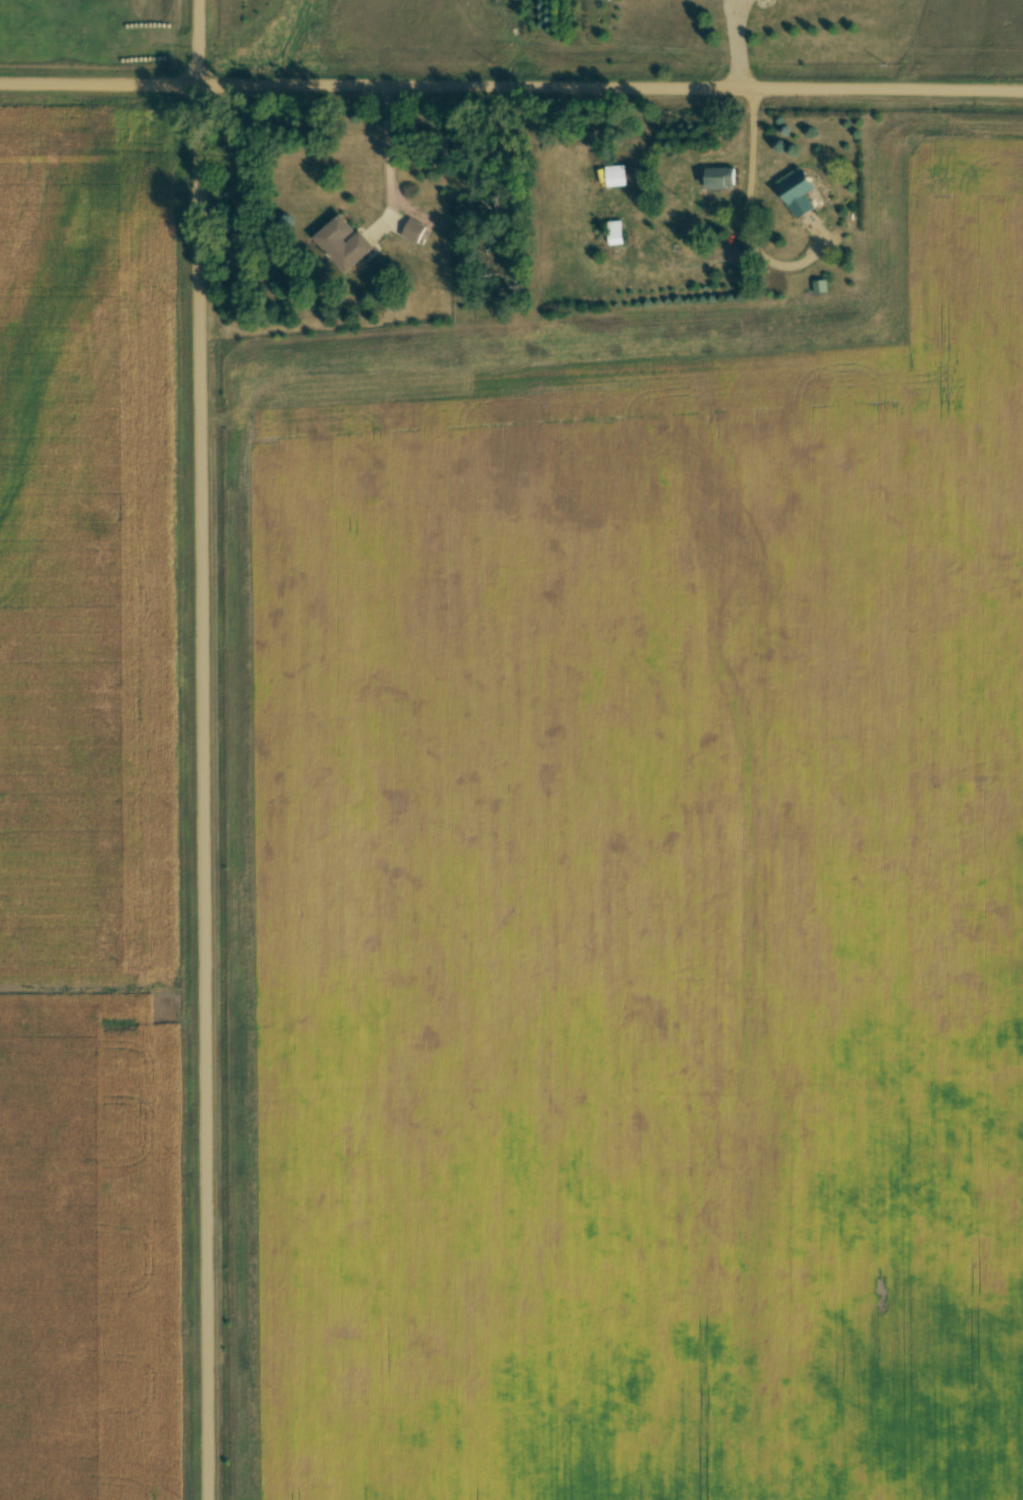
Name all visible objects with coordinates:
road: (737, 45)
road: (511, 88)
road: (385, 165)
building: (615, 177)
building: (719, 179)
building: (798, 195)
road: (744, 228)
building: (413, 232)
building: (615, 234)
building: (342, 245)
road: (200, 749)

